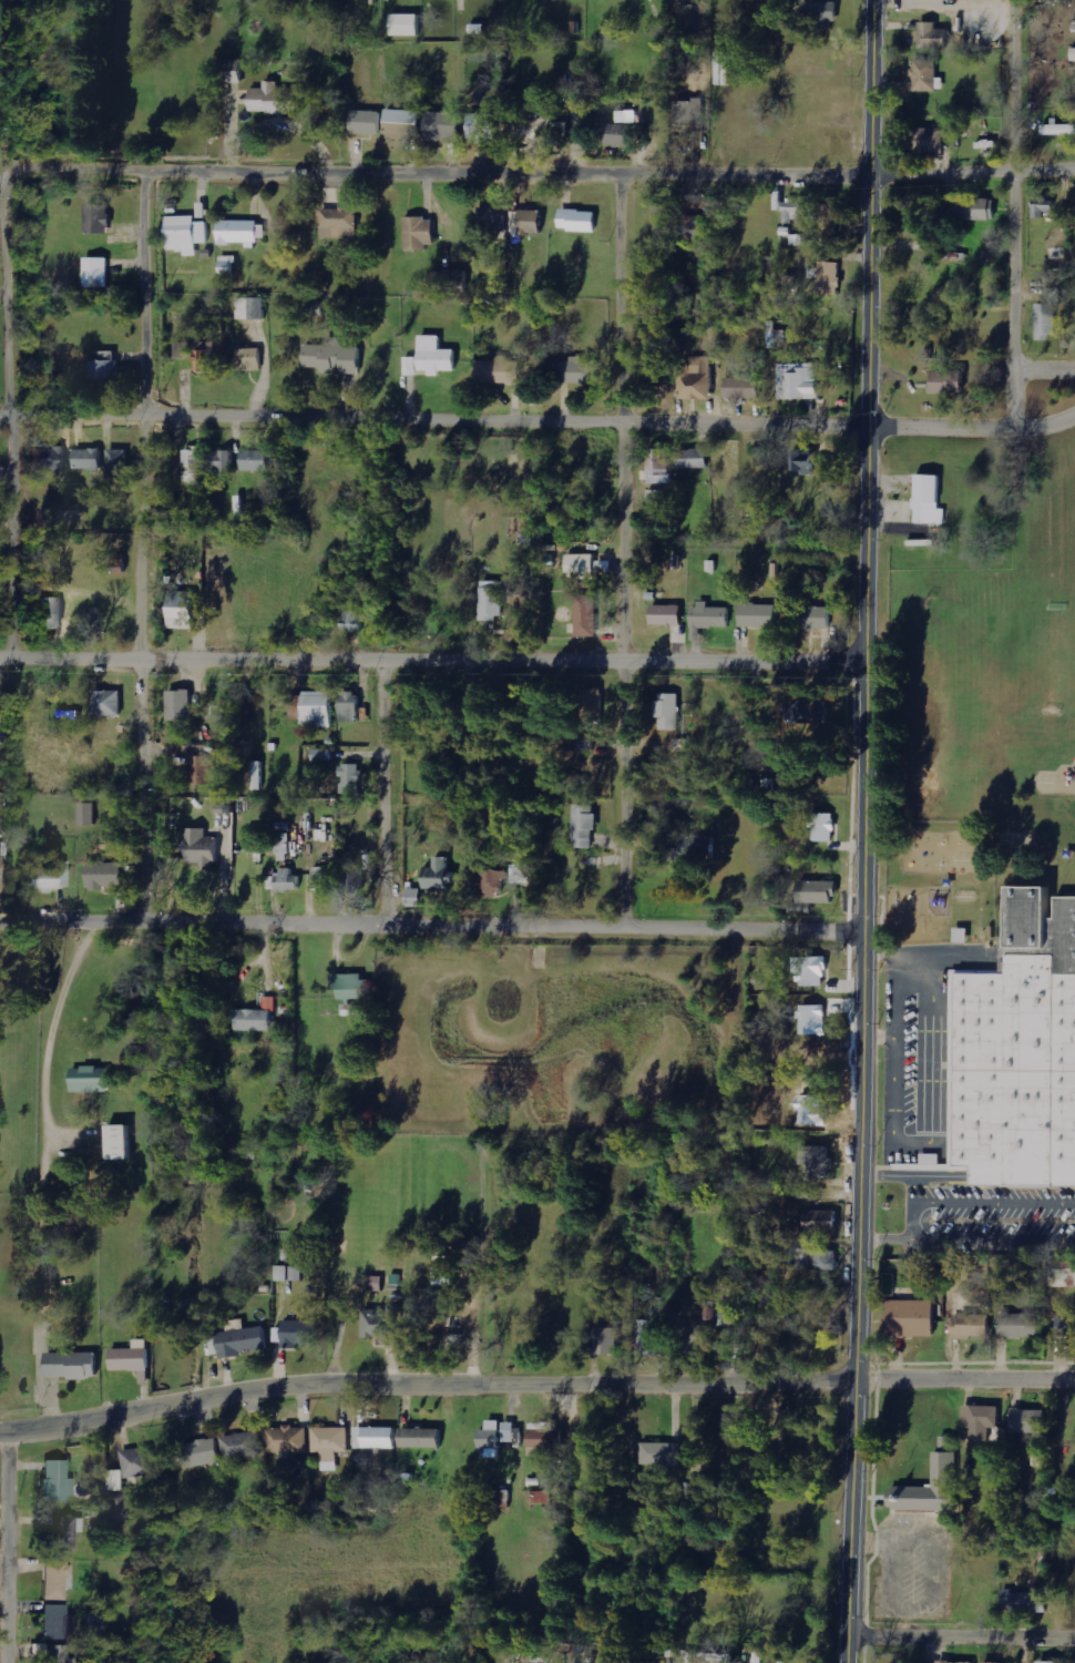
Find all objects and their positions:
building: (826, 13)
building: (409, 25)
building: (933, 37)
building: (1074, 53)
building: (725, 69)
building: (234, 71)
building: (928, 75)
building: (277, 99)
building: (688, 113)
building: (628, 116)
building: (367, 122)
building: (403, 123)
building: (446, 126)
building: (484, 127)
building: (533, 130)
building: (1059, 130)
building: (620, 134)
building: (930, 140)
road: (567, 172)
building: (1044, 206)
building: (977, 208)
building: (791, 211)
road: (1018, 213)
building: (99, 218)
building: (827, 218)
building: (493, 220)
building: (581, 220)
building: (530, 222)
building: (339, 223)
building: (239, 232)
building: (420, 233)
building: (188, 234)
building: (696, 234)
building: (228, 265)
building: (98, 272)
building: (452, 278)
building: (826, 279)
building: (252, 308)
building: (315, 308)
building: (1050, 315)
building: (184, 350)
building: (206, 356)
building: (438, 356)
building: (335, 357)
building: (250, 359)
building: (411, 366)
road: (1046, 366)
building: (105, 369)
building: (501, 371)
building: (580, 371)
building: (699, 379)
building: (951, 381)
building: (799, 382)
building: (744, 388)
road: (509, 417)
road: (1047, 424)
building: (90, 459)
building: (696, 459)
building: (51, 460)
building: (257, 460)
building: (224, 461)
building: (805, 462)
building: (119, 465)
building: (194, 465)
building: (659, 497)
building: (930, 501)
road: (22, 523)
road: (152, 542)
road: (635, 548)
building: (583, 565)
building: (605, 567)
building: (494, 600)
building: (185, 610)
building: (51, 613)
building: (587, 615)
building: (668, 615)
building: (759, 615)
building: (710, 616)
building: (812, 616)
building: (351, 620)
road: (433, 653)
building: (109, 703)
building: (596, 704)
building: (181, 705)
building: (295, 705)
building: (351, 706)
building: (320, 708)
building: (670, 712)
building: (806, 712)
building: (202, 769)
building: (351, 778)
road: (393, 785)
building: (89, 814)
building: (586, 826)
building: (825, 827)
road: (863, 831)
building: (283, 839)
building: (256, 841)
building: (203, 848)
building: (439, 874)
building: (520, 874)
building: (107, 875)
building: (52, 878)
building: (321, 878)
building: (698, 878)
building: (286, 880)
building: (0, 881)
building: (494, 882)
building: (818, 891)
building: (416, 897)
road: (431, 918)
building: (964, 936)
building: (815, 971)
building: (355, 987)
building: (259, 1018)
building: (815, 1020)
building: (1017, 1044)
building: (92, 1080)
building: (122, 1143)
building: (817, 1162)
road: (39, 1165)
building: (825, 1221)
building: (816, 1257)
building: (283, 1273)
building: (448, 1276)
building: (376, 1284)
building: (734, 1307)
building: (905, 1322)
building: (1066, 1323)
building: (385, 1325)
building: (973, 1326)
building: (1021, 1326)
building: (299, 1334)
building: (651, 1337)
building: (240, 1341)
building: (608, 1341)
building: (133, 1357)
building: (73, 1365)
road: (534, 1377)
building: (982, 1421)
building: (1031, 1421)
building: (511, 1432)
building: (494, 1436)
building: (377, 1438)
building: (423, 1438)
building: (288, 1439)
building: (549, 1440)
building: (243, 1446)
building: (330, 1446)
building: (203, 1452)
building: (661, 1455)
building: (134, 1466)
building: (59, 1481)
building: (925, 1490)
building: (543, 1498)
building: (120, 1506)
building: (63, 1534)
road: (14, 1544)
building: (57, 1580)
building: (1021, 1601)
building: (57, 1623)
road: (963, 1635)
building: (58, 1654)
building: (709, 1657)
building: (1046, 1661)
building: (955, 1662)

